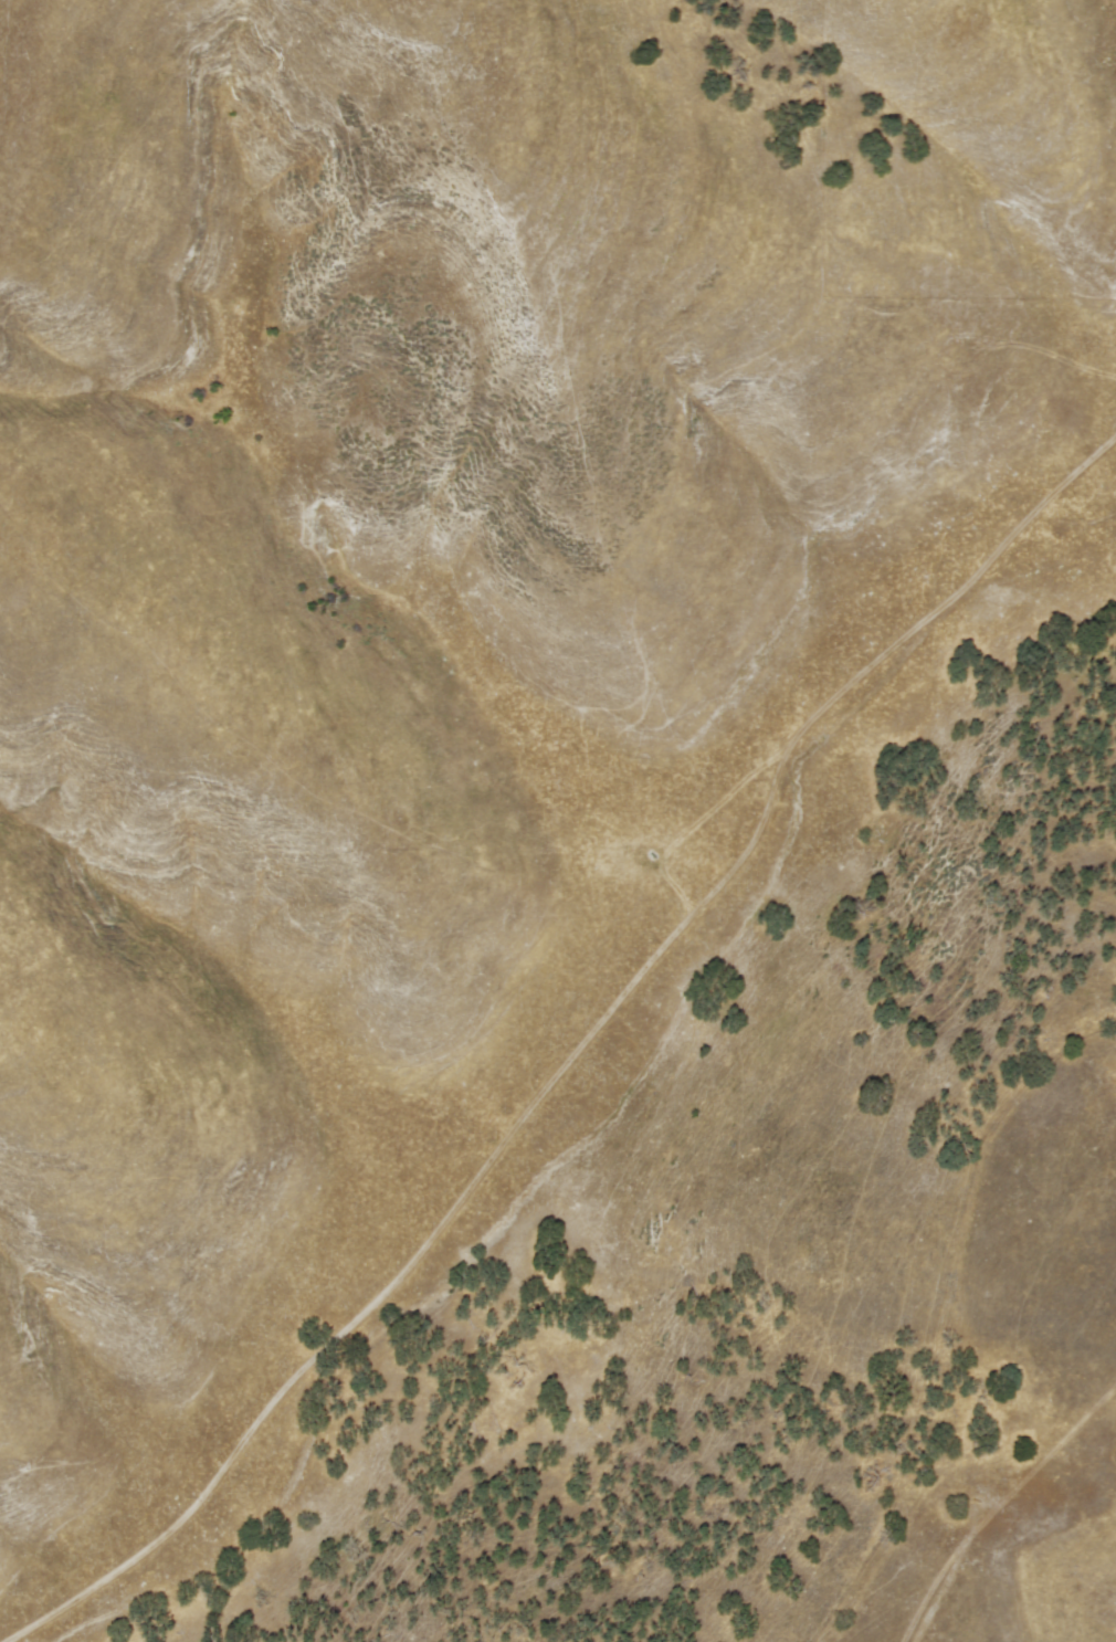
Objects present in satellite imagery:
road: (576, 1051)

